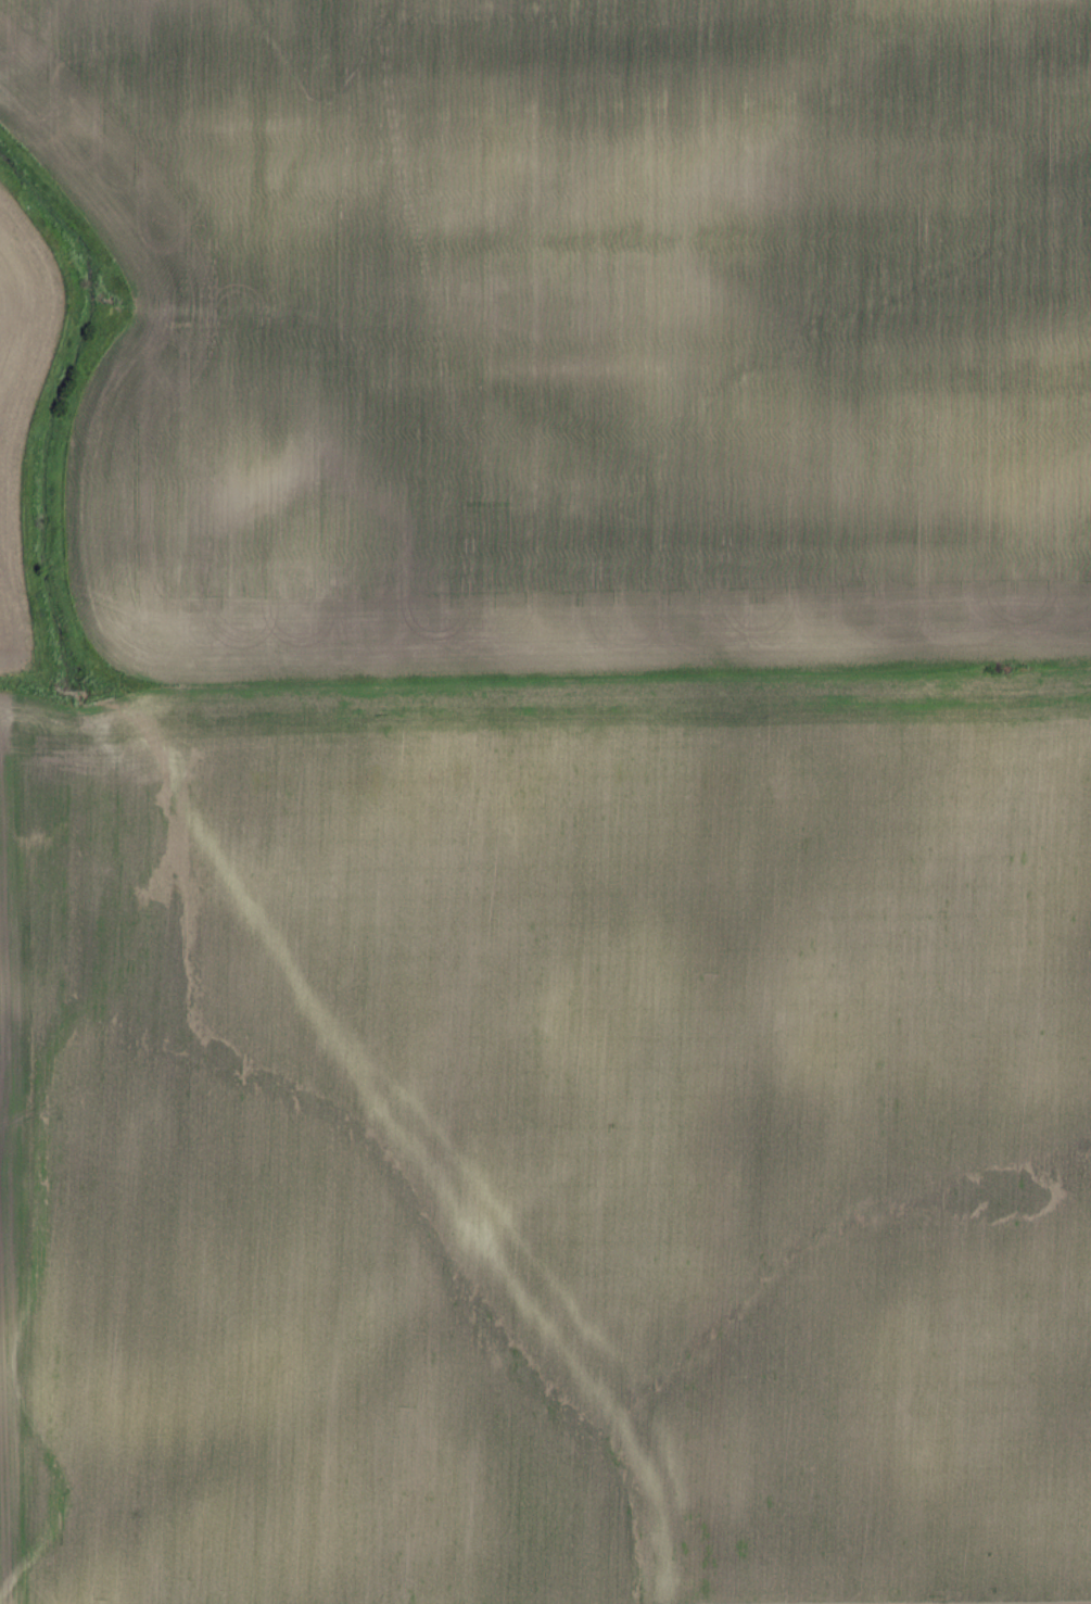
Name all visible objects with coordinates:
crop: (20, 405)
crop: (560, 812)

